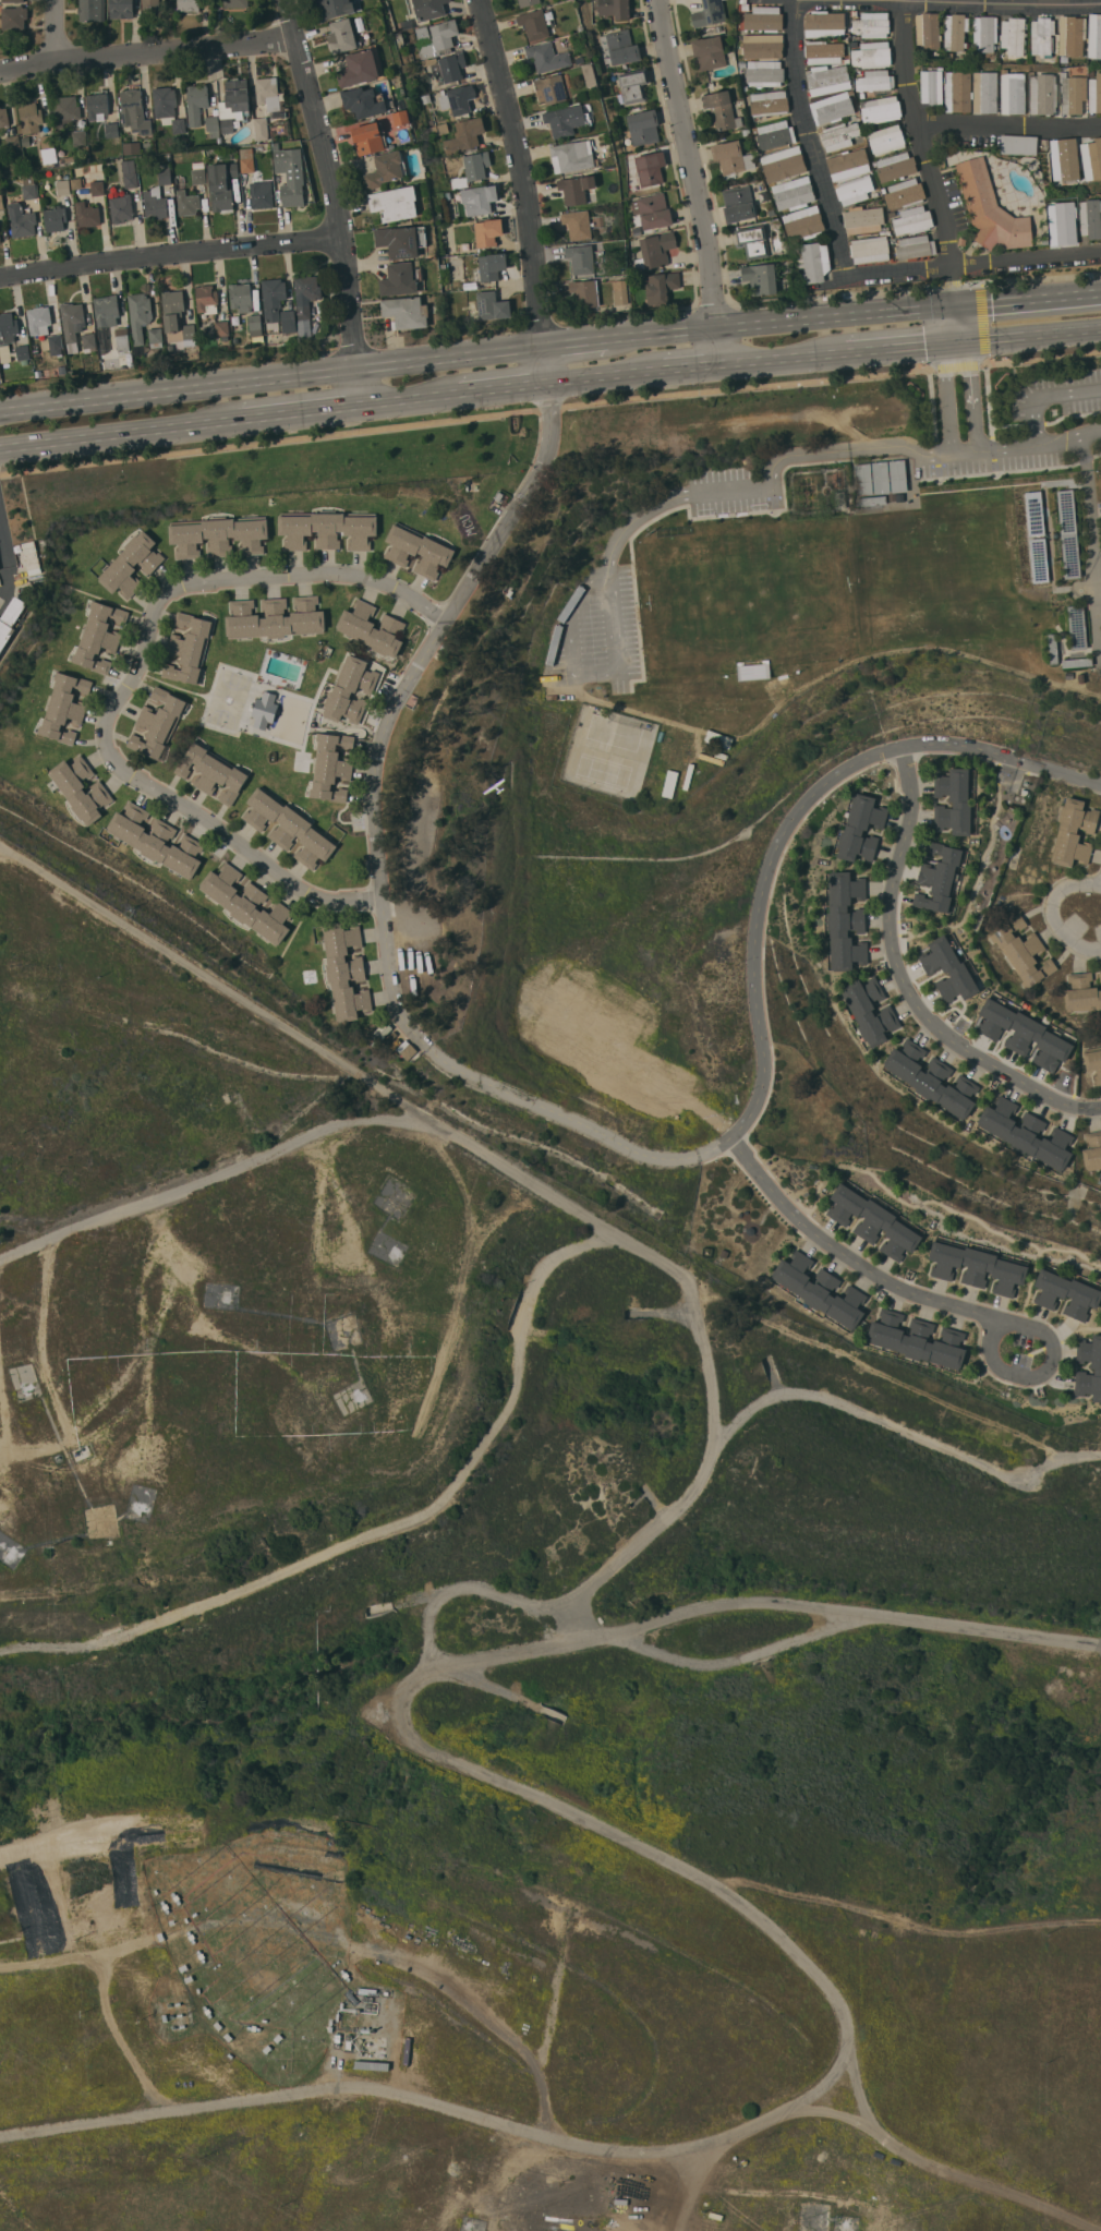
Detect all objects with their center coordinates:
building: (13, 0)
building: (152, 2)
building: (528, 2)
road: (965, 2)
building: (237, 3)
building: (189, 4)
building: (745, 4)
building: (335, 7)
building: (428, 8)
building: (610, 8)
building: (121, 9)
building: (92, 10)
building: (854, 12)
building: (710, 13)
building: (14, 17)
building: (763, 19)
building: (539, 22)
building: (825, 23)
building: (871, 24)
building: (581, 27)
building: (718, 27)
road: (56, 28)
building: (928, 29)
building: (955, 31)
building: (422, 33)
building: (342, 35)
building: (984, 35)
building: (1014, 35)
building: (1042, 35)
building: (1072, 35)
building: (1094, 35)
building: (439, 37)
building: (398, 39)
building: (762, 46)
building: (619, 47)
road: (148, 50)
building: (710, 51)
building: (824, 51)
building: (872, 53)
building: (936, 53)
building: (949, 55)
building: (547, 56)
building: (428, 61)
building: (451, 65)
building: (359, 68)
building: (765, 73)
building: (1091, 73)
building: (590, 75)
building: (827, 79)
building: (875, 81)
building: (633, 84)
building: (931, 86)
building: (267, 88)
building: (549, 88)
building: (971, 91)
building: (1013, 92)
building: (1043, 93)
building: (1073, 93)
building: (238, 94)
building: (1094, 94)
building: (426, 98)
building: (458, 98)
building: (364, 101)
building: (165, 102)
building: (196, 102)
building: (769, 102)
building: (98, 105)
building: (833, 107)
building: (880, 108)
building: (721, 109)
building: (64, 110)
building: (134, 112)
building: (3, 117)
building: (31, 117)
building: (401, 118)
building: (566, 119)
road: (1008, 123)
building: (180, 125)
building: (213, 125)
building: (227, 125)
building: (643, 126)
building: (440, 128)
building: (111, 129)
building: (262, 129)
building: (747, 132)
building: (774, 134)
road: (807, 135)
building: (839, 135)
building: (464, 136)
road: (920, 136)
building: (80, 137)
building: (367, 137)
building: (886, 138)
building: (47, 141)
building: (13, 142)
building: (1018, 143)
building: (275, 145)
building: (132, 148)
building: (118, 149)
building: (150, 150)
building: (49, 155)
building: (571, 155)
building: (731, 156)
building: (1091, 156)
building: (247, 159)
building: (66, 160)
building: (1065, 160)
building: (783, 162)
building: (476, 164)
building: (848, 164)
building: (895, 166)
building: (650, 167)
building: (386, 168)
road: (523, 171)
building: (130, 173)
building: (165, 174)
building: (291, 176)
building: (198, 177)
building: (458, 181)
road: (695, 181)
building: (76, 182)
building: (222, 185)
building: (29, 186)
building: (63, 186)
building: (97, 188)
building: (855, 189)
building: (464, 190)
building: (578, 190)
building: (794, 193)
building: (874, 193)
building: (905, 193)
building: (262, 194)
road: (336, 200)
building: (481, 200)
building: (1, 202)
building: (189, 203)
building: (396, 203)
building: (738, 203)
building: (156, 204)
building: (121, 207)
building: (990, 208)
building: (652, 210)
building: (892, 213)
building: (87, 214)
building: (1090, 217)
building: (55, 218)
building: (21, 219)
building: (863, 219)
building: (912, 220)
building: (803, 222)
building: (577, 224)
building: (1062, 224)
building: (637, 230)
building: (487, 231)
building: (0, 234)
building: (0, 240)
building: (403, 241)
building: (753, 241)
building: (895, 241)
building: (465, 245)
building: (915, 246)
building: (870, 249)
building: (655, 250)
road: (170, 253)
building: (581, 258)
building: (814, 261)
road: (1027, 263)
building: (489, 266)
road: (898, 272)
building: (761, 278)
building: (399, 279)
building: (661, 286)
road: (955, 288)
building: (620, 291)
building: (584, 292)
building: (306, 296)
building: (206, 297)
building: (241, 297)
building: (274, 298)
building: (462, 299)
road: (1028, 299)
building: (492, 305)
traffic signals: (957, 306)
building: (172, 309)
building: (436, 309)
building: (407, 312)
building: (106, 317)
building: (140, 318)
building: (39, 319)
building: (288, 321)
road: (793, 322)
building: (72, 324)
road: (957, 324)
building: (255, 325)
building: (221, 327)
building: (189, 330)
building: (7, 334)
road: (1029, 335)
building: (155, 336)
building: (269, 337)
building: (55, 340)
building: (88, 340)
building: (122, 340)
road: (588, 341)
traffic signals: (958, 342)
road: (885, 348)
building: (22, 351)
road: (1040, 357)
road: (767, 359)
building: (101, 364)
road: (547, 364)
road: (954, 365)
road: (676, 369)
building: (0, 376)
road: (590, 377)
road: (273, 379)
road: (494, 389)
road: (1044, 393)
road: (975, 394)
road: (947, 395)
road: (402, 400)
road: (293, 413)
road: (464, 419)
parking lot: (1040, 425)
road: (109, 435)
road: (1069, 437)
road: (1011, 447)
road: (941, 454)
building: (897, 475)
building: (881, 477)
building: (863, 479)
road: (743, 485)
parking lot: (727, 491)
building: (499, 495)
building: (870, 499)
building: (1033, 512)
building: (327, 528)
building: (1069, 533)
building: (218, 535)
road: (1090, 540)
building: (419, 550)
building: (31, 555)
building: (1038, 559)
road: (5, 564)
building: (131, 564)
park: (821, 599)
building: (275, 617)
road: (614, 618)
building: (10, 619)
building: (1077, 627)
building: (372, 628)
parking lot: (596, 634)
building: (99, 636)
road: (570, 638)
building: (189, 648)
building: (1053, 648)
building: (1077, 662)
road: (822, 675)
road: (129, 685)
building: (350, 690)
park: (228, 699)
road: (394, 700)
building: (64, 707)
building: (264, 709)
building: (158, 723)
park: (614, 733)
building: (667, 764)
building: (331, 767)
park: (603, 771)
building: (213, 772)
building: (52, 784)
building: (81, 788)
building: (954, 800)
road: (794, 819)
building: (289, 827)
building: (861, 828)
building: (1074, 832)
building: (156, 840)
building: (939, 877)
building: (247, 903)
road: (1052, 914)
building: (845, 920)
building: (1023, 951)
building: (949, 969)
building: (344, 970)
building: (1100, 975)
road: (905, 980)
building: (1081, 992)
building: (870, 1010)
building: (546, 1018)
building: (1024, 1033)
building: (410, 1052)
building: (1093, 1061)
building: (663, 1066)
building: (931, 1078)
road: (573, 1121)
building: (1027, 1133)
building: (1092, 1150)
road: (215, 1175)
road: (769, 1187)
building: (873, 1220)
road: (644, 1250)
building: (977, 1266)
building: (820, 1289)
building: (1066, 1292)
road: (990, 1315)
building: (917, 1339)
road: (39, 1340)
road: (136, 1364)
building: (1097, 1368)
road: (388, 1528)
road: (988, 1627)
road: (510, 1659)
building: (372, 1719)
building: (577, 1871)
building: (861, 1931)
building: (874, 1933)
road: (480, 2019)
road: (836, 2067)
road: (840, 2114)
road: (935, 2162)
road: (695, 2190)

